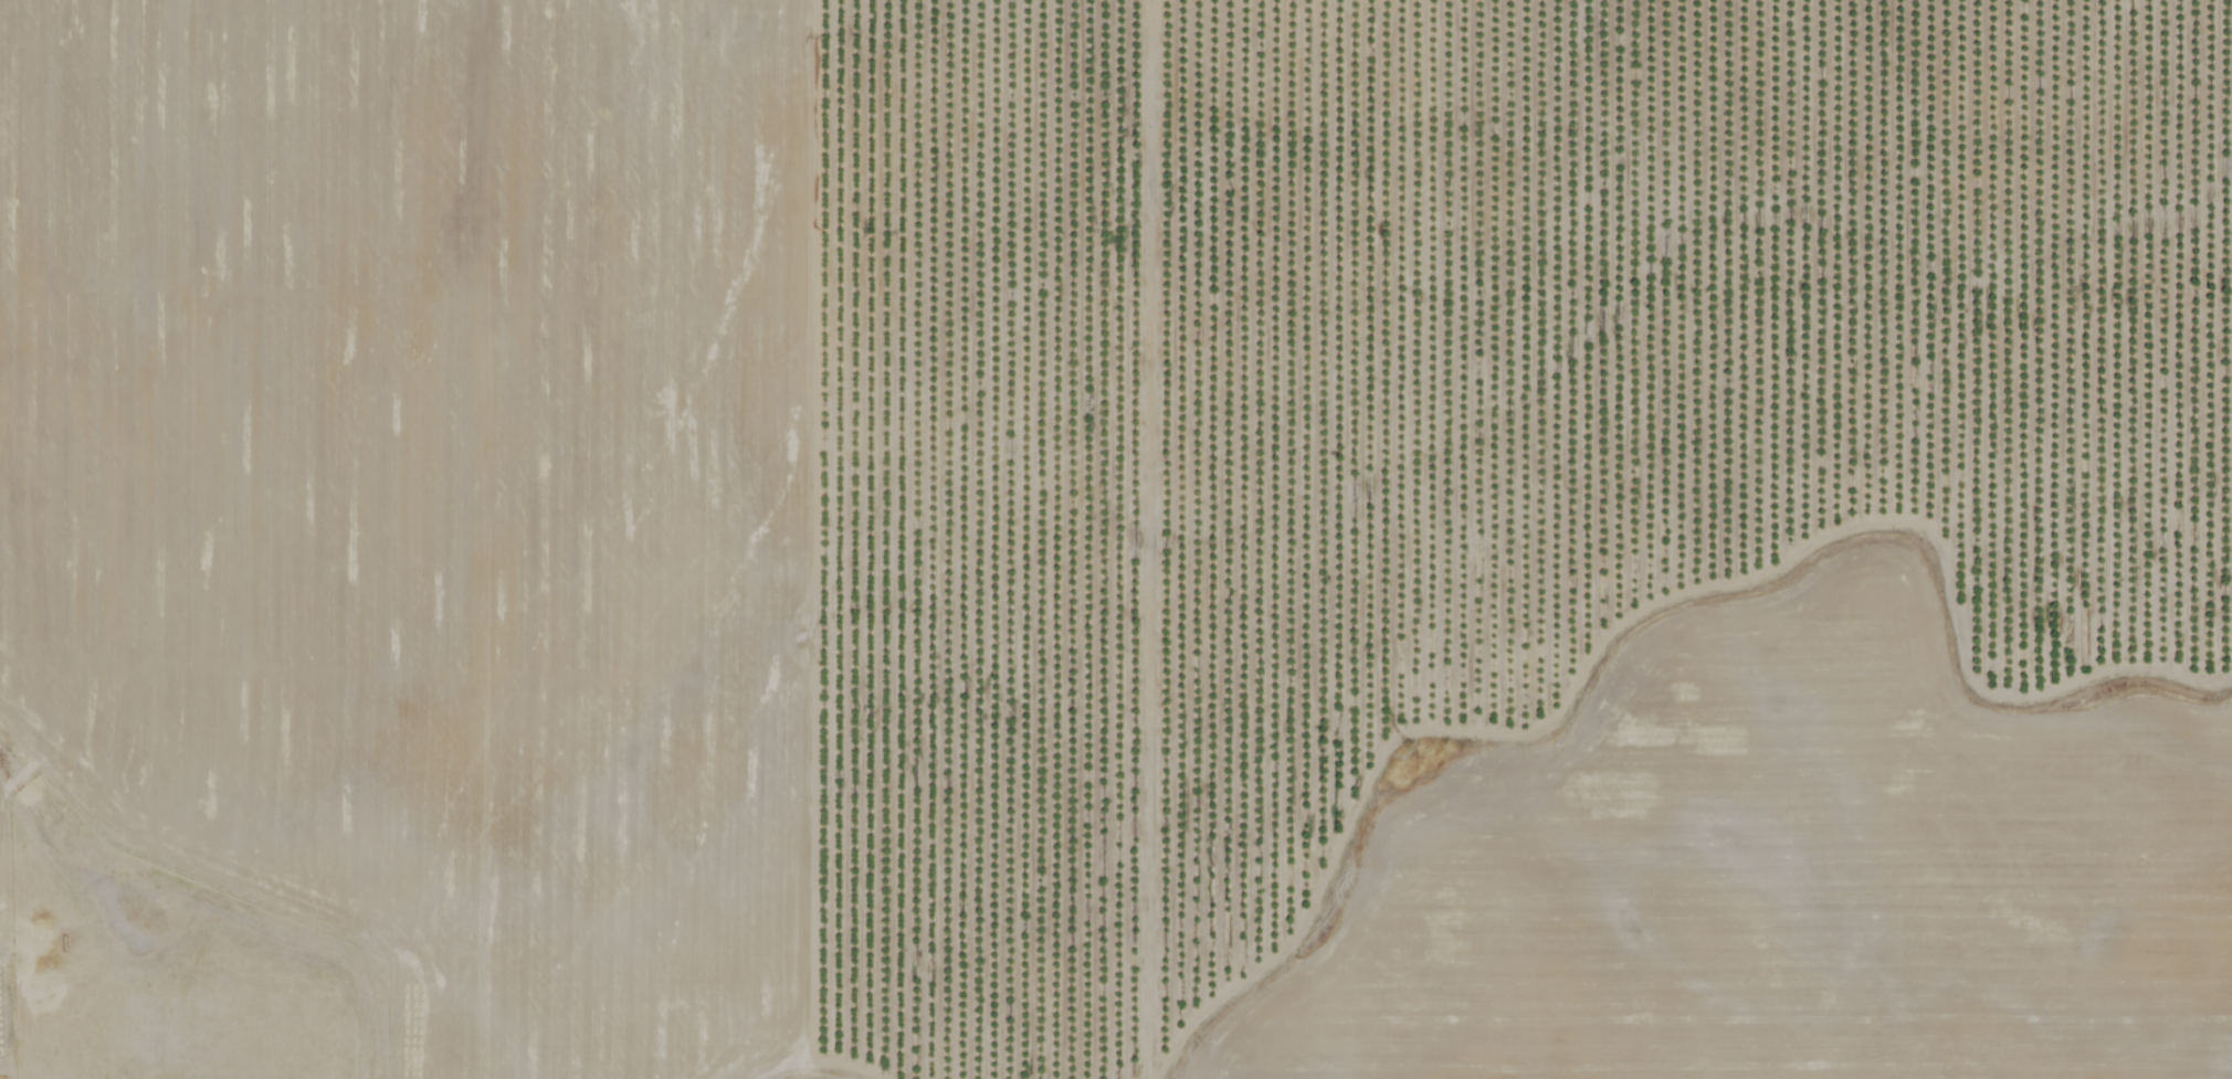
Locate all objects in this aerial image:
crop: (1116, 539)

